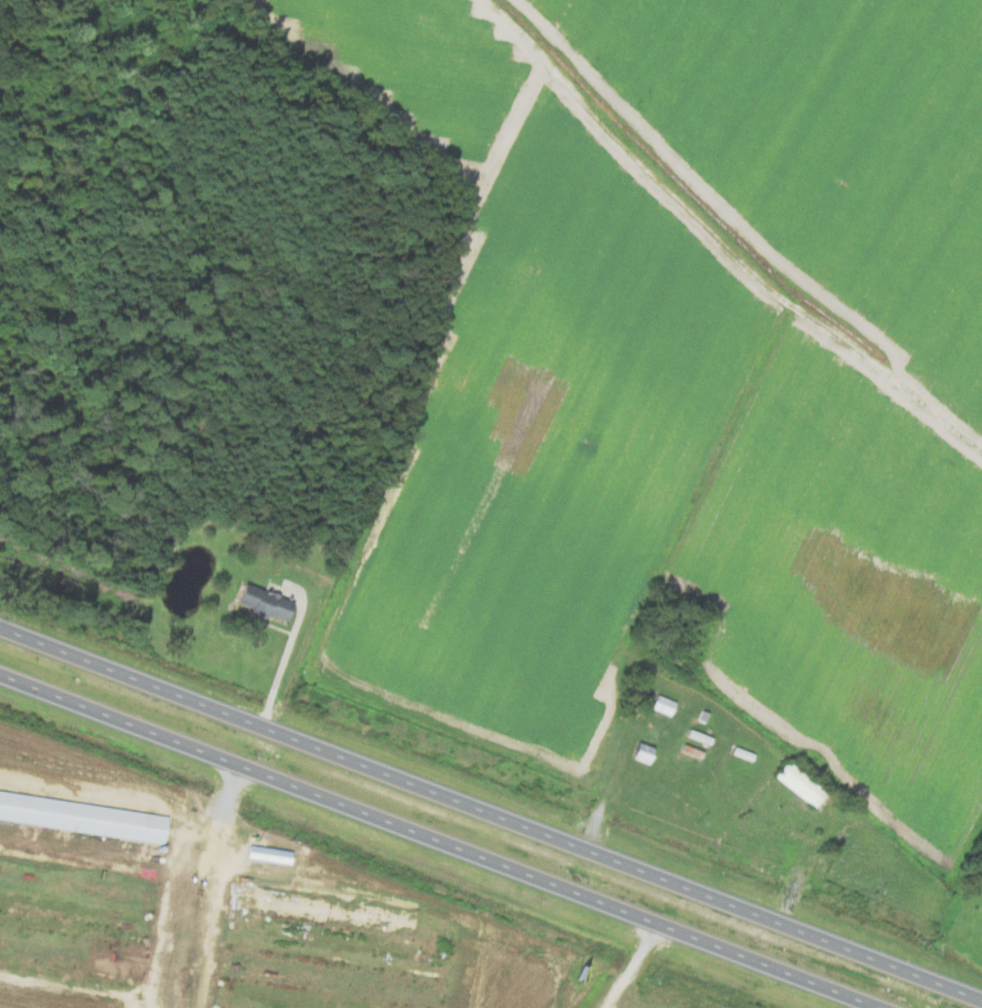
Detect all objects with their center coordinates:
building: (260, 601)
building: (660, 703)
building: (638, 751)
building: (797, 783)
road: (491, 812)
building: (81, 813)
road: (440, 840)
building: (266, 851)
building: (320, 909)
road: (631, 966)

